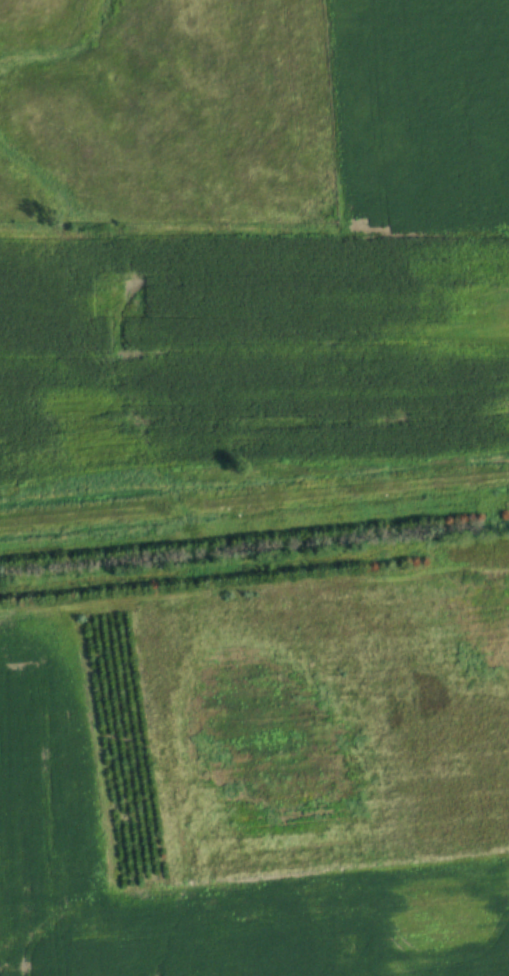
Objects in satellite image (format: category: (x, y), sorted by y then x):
crop: (419, 111)

